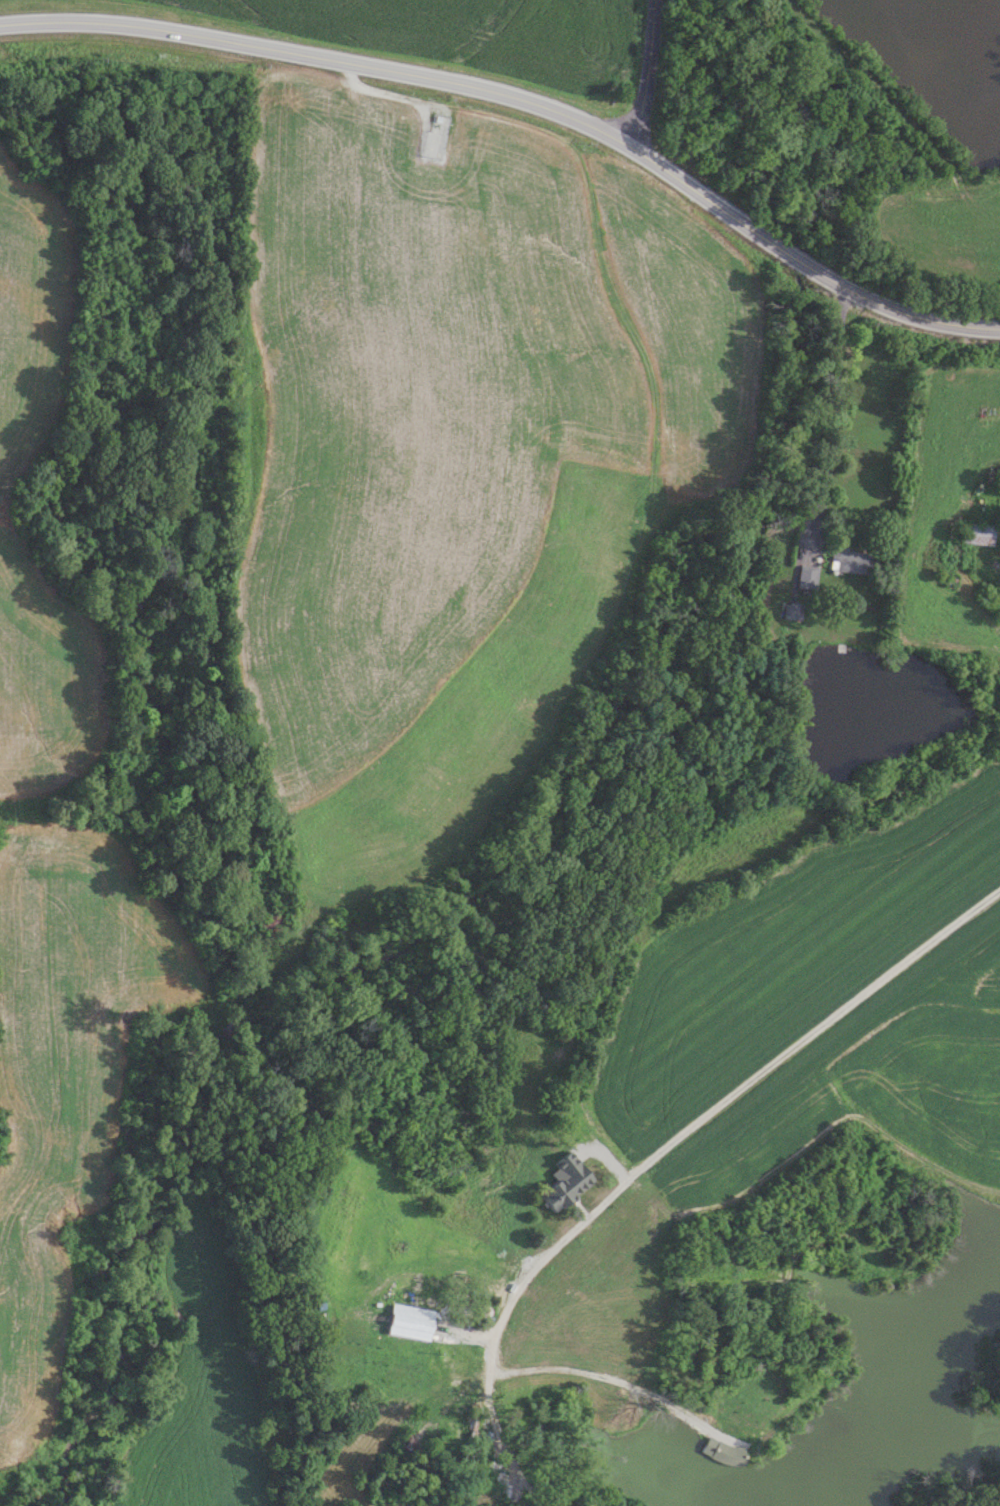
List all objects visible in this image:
road: (645, 72)
road: (523, 103)
road: (828, 418)
building: (980, 534)
building: (853, 560)
building: (808, 576)
building: (792, 609)
building: (275, 923)
road: (725, 1100)
building: (569, 1187)
building: (414, 1330)
road: (597, 1381)
building: (458, 1407)

